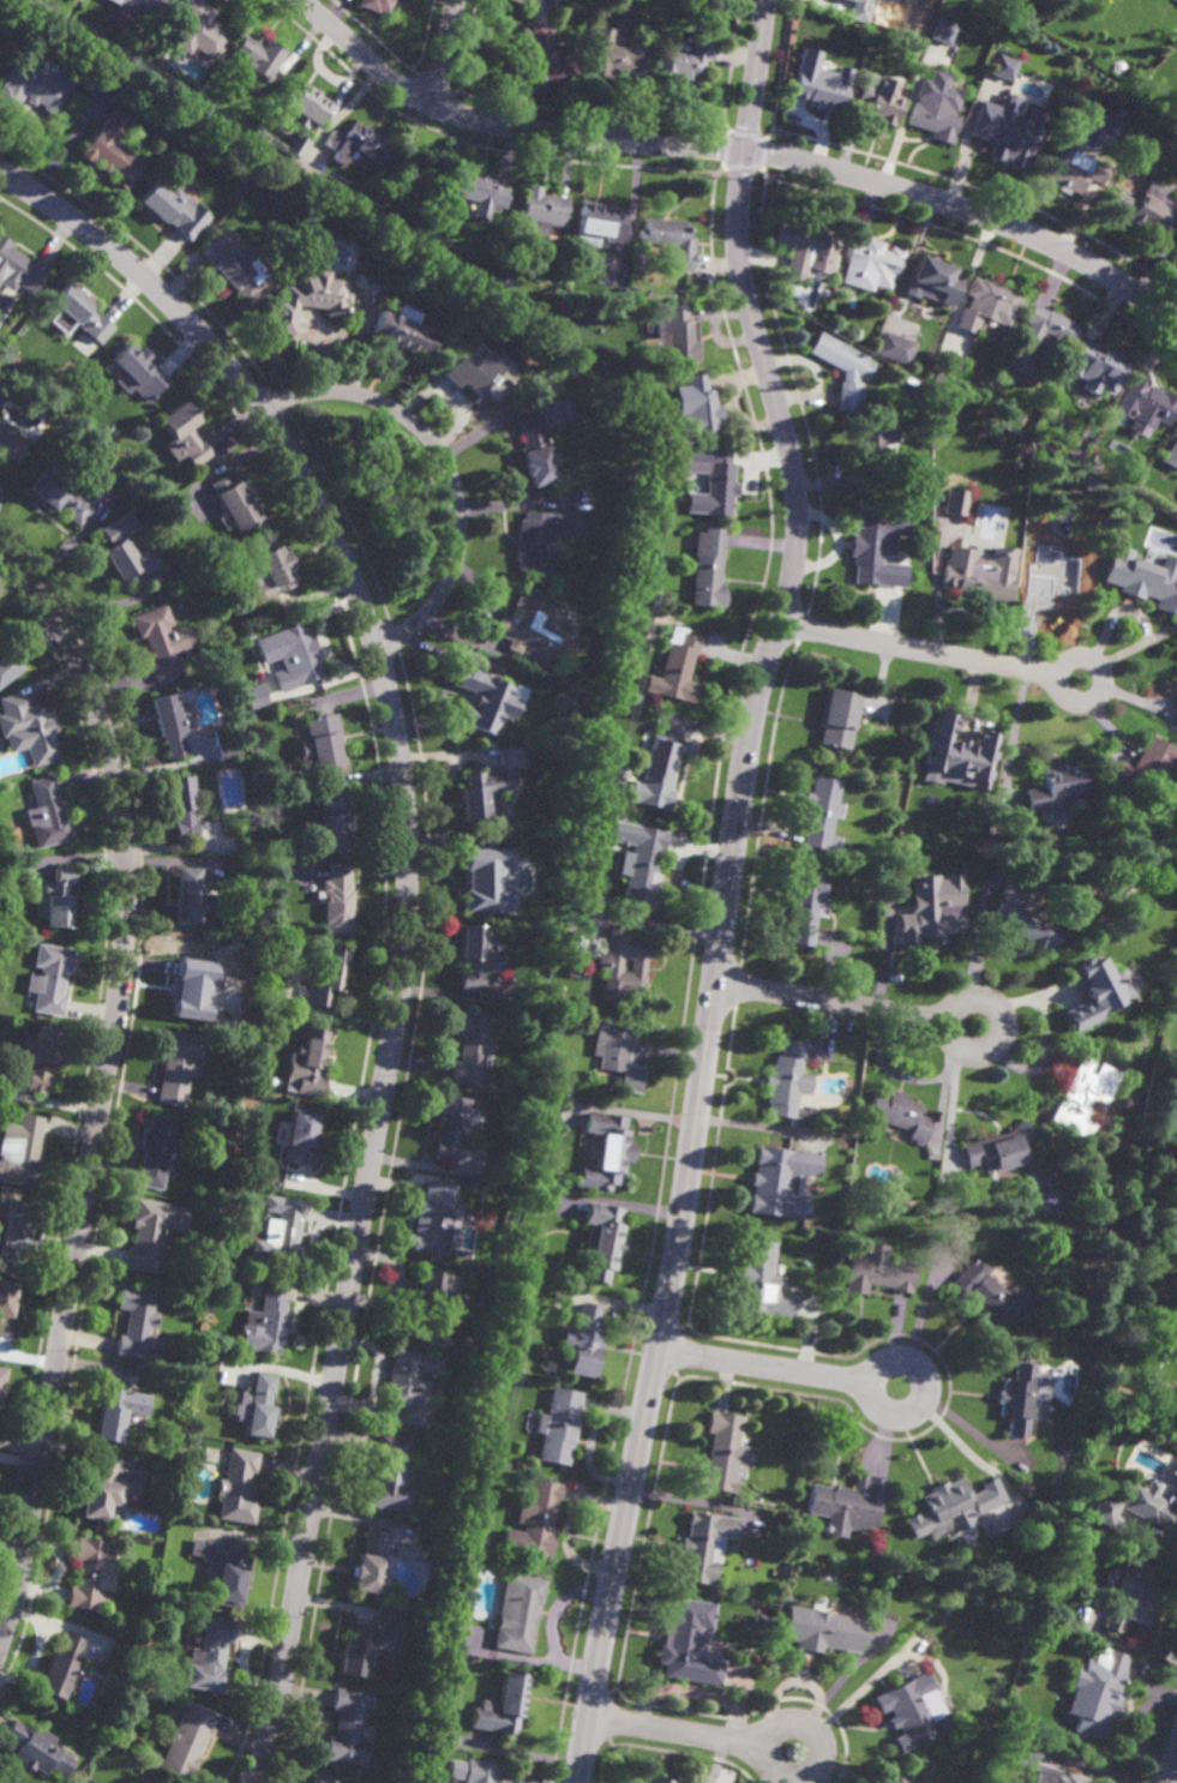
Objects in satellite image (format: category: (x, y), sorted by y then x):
building: (77, 0)
building: (138, 5)
building: (376, 5)
building: (626, 5)
building: (859, 11)
building: (1164, 12)
building: (997, 20)
building: (198, 29)
building: (939, 31)
road: (446, 53)
building: (913, 53)
building: (257, 55)
building: (614, 55)
building: (545, 58)
building: (686, 59)
building: (998, 67)
building: (30, 89)
building: (817, 89)
building: (881, 102)
building: (305, 103)
building: (936, 108)
building: (1005, 130)
building: (359, 143)
building: (296, 145)
building: (113, 150)
road: (735, 150)
traffic signals: (744, 151)
building: (416, 167)
building: (1075, 169)
building: (269, 172)
building: (479, 190)
building: (174, 206)
building: (1145, 206)
building: (542, 209)
building: (283, 222)
building: (597, 223)
building: (669, 238)
building: (335, 239)
building: (805, 246)
building: (1176, 251)
building: (233, 263)
building: (866, 265)
building: (19, 266)
building: (927, 281)
building: (619, 290)
building: (308, 294)
building: (986, 302)
building: (80, 310)
road: (749, 314)
building: (404, 331)
building: (673, 332)
building: (1039, 336)
building: (894, 347)
building: (16, 358)
building: (1097, 367)
building: (138, 370)
building: (840, 370)
building: (482, 372)
building: (697, 402)
building: (1147, 402)
building: (919, 428)
building: (107, 430)
building: (184, 433)
building: (11, 443)
building: (533, 450)
building: (875, 451)
building: (1171, 452)
building: (937, 454)
building: (1074, 456)
road: (444, 464)
building: (710, 480)
building: (1085, 482)
building: (58, 496)
building: (235, 500)
building: (954, 502)
building: (540, 536)
building: (871, 542)
building: (126, 551)
building: (705, 568)
building: (271, 572)
building: (980, 576)
building: (1145, 576)
building: (1059, 580)
building: (529, 622)
building: (160, 641)
road: (917, 650)
building: (298, 658)
building: (7, 664)
building: (677, 670)
road: (1058, 671)
building: (253, 696)
building: (484, 701)
building: (836, 718)
building: (170, 724)
building: (26, 730)
road: (1011, 732)
building: (320, 742)
building: (957, 751)
building: (509, 757)
building: (1145, 764)
building: (654, 776)
building: (1055, 790)
building: (478, 796)
building: (182, 808)
building: (48, 815)
building: (819, 820)
building: (336, 824)
building: (641, 869)
building: (484, 882)
building: (191, 897)
building: (56, 900)
building: (337, 900)
building: (804, 906)
road: (408, 911)
building: (932, 911)
building: (1026, 921)
building: (251, 924)
building: (478, 959)
building: (606, 963)
building: (50, 979)
building: (329, 979)
building: (193, 981)
building: (236, 981)
building: (1095, 992)
road: (833, 1001)
road: (953, 1011)
building: (470, 1046)
building: (1149, 1049)
building: (614, 1053)
building: (44, 1059)
building: (176, 1063)
building: (310, 1063)
building: (786, 1080)
road: (103, 1088)
building: (1082, 1095)
road: (951, 1103)
building: (899, 1112)
building: (454, 1123)
building: (301, 1136)
building: (603, 1148)
building: (998, 1148)
building: (20, 1149)
building: (155, 1149)
building: (780, 1179)
building: (1068, 1184)
building: (951, 1195)
building: (217, 1201)
road: (683, 1203)
building: (436, 1217)
building: (14, 1229)
building: (146, 1233)
building: (284, 1233)
building: (600, 1239)
building: (878, 1273)
building: (759, 1280)
building: (438, 1293)
building: (989, 1293)
building: (6, 1307)
building: (136, 1320)
building: (266, 1321)
building: (582, 1340)
building: (245, 1353)
building: (490, 1361)
road: (764, 1367)
road: (873, 1373)
building: (1, 1376)
building: (412, 1383)
building: (1020, 1399)
building: (257, 1406)
building: (116, 1412)
building: (558, 1425)
building: (721, 1453)
building: (1175, 1470)
building: (391, 1476)
building: (1175, 1484)
building: (238, 1488)
building: (1176, 1488)
building: (130, 1489)
building: (101, 1494)
building: (848, 1505)
building: (178, 1506)
building: (951, 1507)
building: (1152, 1507)
building: (1105, 1509)
building: (534, 1520)
building: (180, 1532)
building: (703, 1547)
building: (154, 1551)
building: (407, 1553)
building: (373, 1561)
building: (223, 1569)
building: (89, 1573)
building: (1137, 1596)
building: (520, 1614)
building: (823, 1631)
building: (370, 1644)
building: (687, 1644)
building: (211, 1657)
building: (62, 1670)
building: (1100, 1692)
building: (503, 1707)
building: (912, 1713)
building: (347, 1730)
road: (679, 1730)
road: (775, 1730)
building: (186, 1742)
building: (38, 1751)
road: (1169, 1760)
building: (1034, 1763)
building: (480, 1772)
road: (1171, 1775)
building: (317, 1781)
building: (665, 1781)
building: (895, 1782)

